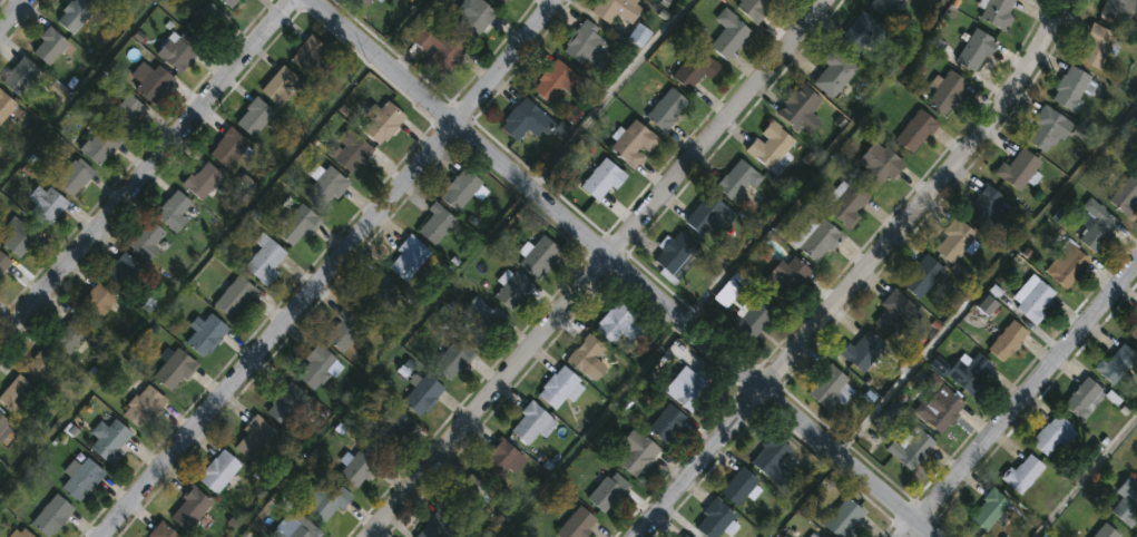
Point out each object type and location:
building: (231, 2)
building: (499, 2)
building: (101, 3)
building: (361, 3)
building: (883, 6)
building: (754, 8)
building: (617, 9)
building: (1116, 9)
road: (9, 11)
building: (998, 13)
building: (75, 14)
building: (208, 21)
road: (400, 27)
building: (863, 32)
building: (728, 35)
building: (639, 36)
building: (49, 45)
building: (589, 47)
building: (1096, 47)
building: (439, 48)
building: (179, 50)
building: (974, 50)
building: (311, 56)
building: (696, 69)
building: (834, 74)
building: (20, 75)
building: (153, 80)
building: (555, 82)
building: (281, 86)
building: (1074, 88)
road: (611, 92)
building: (948, 92)
road: (81, 94)
building: (6, 106)
building: (798, 106)
building: (667, 109)
building: (126, 114)
building: (254, 116)
building: (527, 121)
building: (381, 123)
building: (1046, 130)
building: (915, 131)
building: (100, 145)
building: (634, 145)
building: (770, 145)
building: (229, 148)
building: (350, 150)
road: (816, 162)
building: (878, 166)
road: (147, 169)
building: (1018, 169)
building: (71, 174)
building: (203, 179)
building: (602, 179)
building: (738, 180)
building: (326, 187)
building: (462, 189)
building: (1126, 195)
building: (46, 204)
building: (847, 204)
building: (984, 207)
building: (174, 211)
building: (708, 214)
building: (297, 224)
building: (437, 225)
building: (1097, 226)
building: (19, 236)
building: (147, 240)
building: (816, 240)
building: (953, 242)
building: (677, 255)
building: (539, 256)
building: (409, 257)
building: (265, 260)
building: (4, 264)
building: (1067, 266)
road: (590, 268)
road: (324, 270)
road: (624, 270)
building: (121, 271)
road: (854, 273)
road: (189, 276)
road: (988, 276)
building: (791, 277)
building: (922, 277)
building: (373, 290)
building: (512, 291)
building: (728, 293)
building: (235, 297)
building: (1032, 300)
building: (98, 301)
building: (896, 315)
building: (756, 319)
building: (479, 320)
building: (619, 323)
building: (345, 328)
building: (75, 331)
building: (1134, 332)
building: (206, 335)
building: (1007, 341)
building: (862, 351)
building: (585, 352)
building: (452, 359)
road: (380, 361)
building: (43, 364)
building: (1116, 364)
building: (316, 367)
building: (174, 370)
building: (970, 373)
building: (826, 385)
building: (559, 389)
building: (693, 389)
building: (17, 396)
building: (422, 396)
road: (1017, 396)
building: (1084, 399)
building: (286, 403)
building: (144, 406)
building: (939, 409)
building: (531, 423)
building: (667, 423)
building: (3, 426)
road: (590, 429)
building: (390, 431)
building: (1051, 436)
building: (254, 439)
building: (109, 440)
building: (910, 450)
building: (636, 452)
building: (770, 456)
building: (500, 460)
building: (360, 466)
building: (218, 471)
building: (1023, 473)
road: (1086, 478)
building: (81, 479)
building: (738, 487)
building: (608, 492)
building: (467, 495)
road: (805, 497)
building: (323, 500)
building: (1126, 502)
building: (188, 508)
building: (988, 510)
building: (51, 516)
building: (715, 516)
building: (843, 518)
building: (577, 524)
building: (440, 527)
building: (300, 529)
building: (161, 530)
building: (1105, 531)
building: (23, 534)
building: (816, 535)
building: (685, 536)

